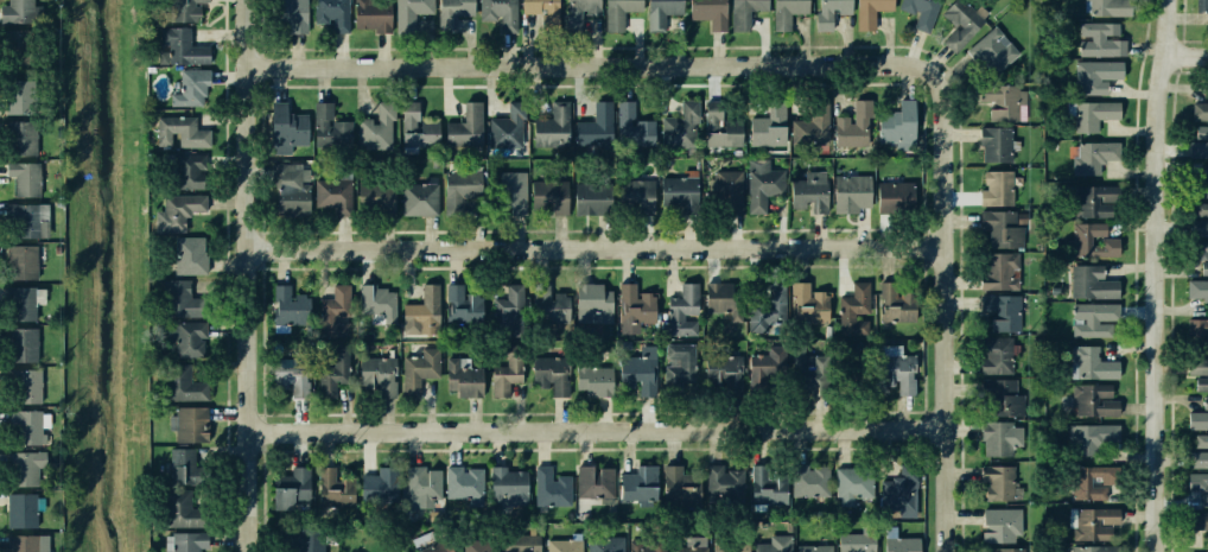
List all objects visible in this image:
building: (1201, 6)
building: (1107, 7)
building: (14, 8)
building: (176, 8)
building: (577, 8)
building: (450, 9)
building: (915, 9)
building: (535, 11)
building: (702, 12)
building: (326, 13)
building: (409, 13)
building: (783, 13)
building: (829, 13)
building: (288, 14)
building: (369, 14)
building: (617, 14)
building: (657, 14)
building: (869, 14)
building: (494, 15)
building: (745, 15)
building: (958, 23)
road: (1169, 26)
building: (1098, 38)
building: (21, 45)
building: (177, 46)
building: (993, 51)
road: (1188, 52)
road: (581, 61)
building: (1096, 75)
building: (193, 87)
building: (23, 91)
building: (999, 101)
building: (1200, 109)
building: (1087, 115)
building: (618, 119)
building: (462, 120)
building: (850, 120)
building: (676, 121)
building: (894, 125)
building: (596, 126)
building: (812, 126)
building: (284, 127)
building: (330, 127)
building: (769, 128)
building: (719, 131)
building: (500, 132)
building: (182, 133)
building: (552, 134)
building: (415, 135)
building: (367, 138)
building: (21, 140)
building: (1199, 141)
building: (990, 144)
building: (1098, 158)
building: (184, 175)
building: (24, 182)
building: (1199, 183)
building: (765, 184)
building: (453, 188)
building: (991, 188)
building: (675, 189)
building: (725, 190)
building: (807, 192)
building: (850, 192)
building: (509, 193)
building: (287, 195)
building: (331, 195)
building: (551, 195)
building: (895, 196)
building: (634, 197)
building: (1096, 198)
building: (418, 199)
building: (376, 201)
building: (587, 201)
building: (178, 211)
building: (27, 220)
building: (1197, 221)
building: (997, 229)
building: (1093, 240)
road: (598, 246)
building: (190, 255)
building: (1201, 255)
building: (23, 261)
building: (999, 268)
road: (244, 275)
building: (1095, 283)
building: (1199, 288)
building: (718, 296)
road: (953, 298)
building: (183, 299)
building: (632, 299)
building: (24, 302)
building: (853, 302)
building: (895, 302)
road: (1159, 302)
building: (591, 303)
building: (767, 303)
building: (807, 303)
building: (288, 304)
building: (679, 306)
building: (376, 310)
building: (463, 310)
building: (549, 311)
building: (333, 312)
building: (506, 312)
building: (1002, 313)
building: (419, 315)
building: (1096, 322)
building: (1200, 334)
building: (24, 344)
building: (186, 347)
building: (997, 351)
building: (676, 362)
building: (857, 362)
building: (1093, 362)
building: (733, 366)
building: (767, 367)
building: (802, 370)
building: (894, 372)
building: (1199, 372)
building: (286, 373)
building: (331, 373)
building: (418, 373)
building: (546, 373)
building: (631, 373)
building: (375, 377)
building: (463, 379)
building: (501, 381)
building: (593, 381)
building: (187, 386)
building: (26, 387)
building: (999, 394)
building: (1091, 400)
building: (1199, 415)
building: (189, 425)
building: (28, 427)
road: (599, 427)
building: (999, 438)
building: (1093, 439)
building: (1199, 451)
building: (184, 465)
building: (25, 467)
building: (638, 477)
building: (673, 478)
building: (767, 478)
building: (809, 478)
building: (723, 481)
building: (1000, 481)
building: (848, 482)
building: (1088, 482)
building: (507, 483)
building: (330, 484)
building: (462, 484)
building: (549, 486)
building: (286, 487)
building: (371, 487)
building: (411, 488)
building: (1197, 488)
building: (896, 489)
building: (592, 491)
building: (183, 507)
building: (23, 509)
building: (1197, 519)
building: (999, 521)
building: (1100, 522)
building: (301, 539)
building: (1207, 539)
building: (775, 541)
building: (856, 541)
building: (896, 541)
building: (24, 543)
building: (604, 544)
building: (476, 545)
building: (520, 545)
building: (561, 545)
building: (644, 545)
building: (726, 545)
building: (812, 545)
building: (185, 546)
building: (682, 547)
building: (434, 548)
building: (1003, 548)
building: (1094, 548)
building: (390, 551)

